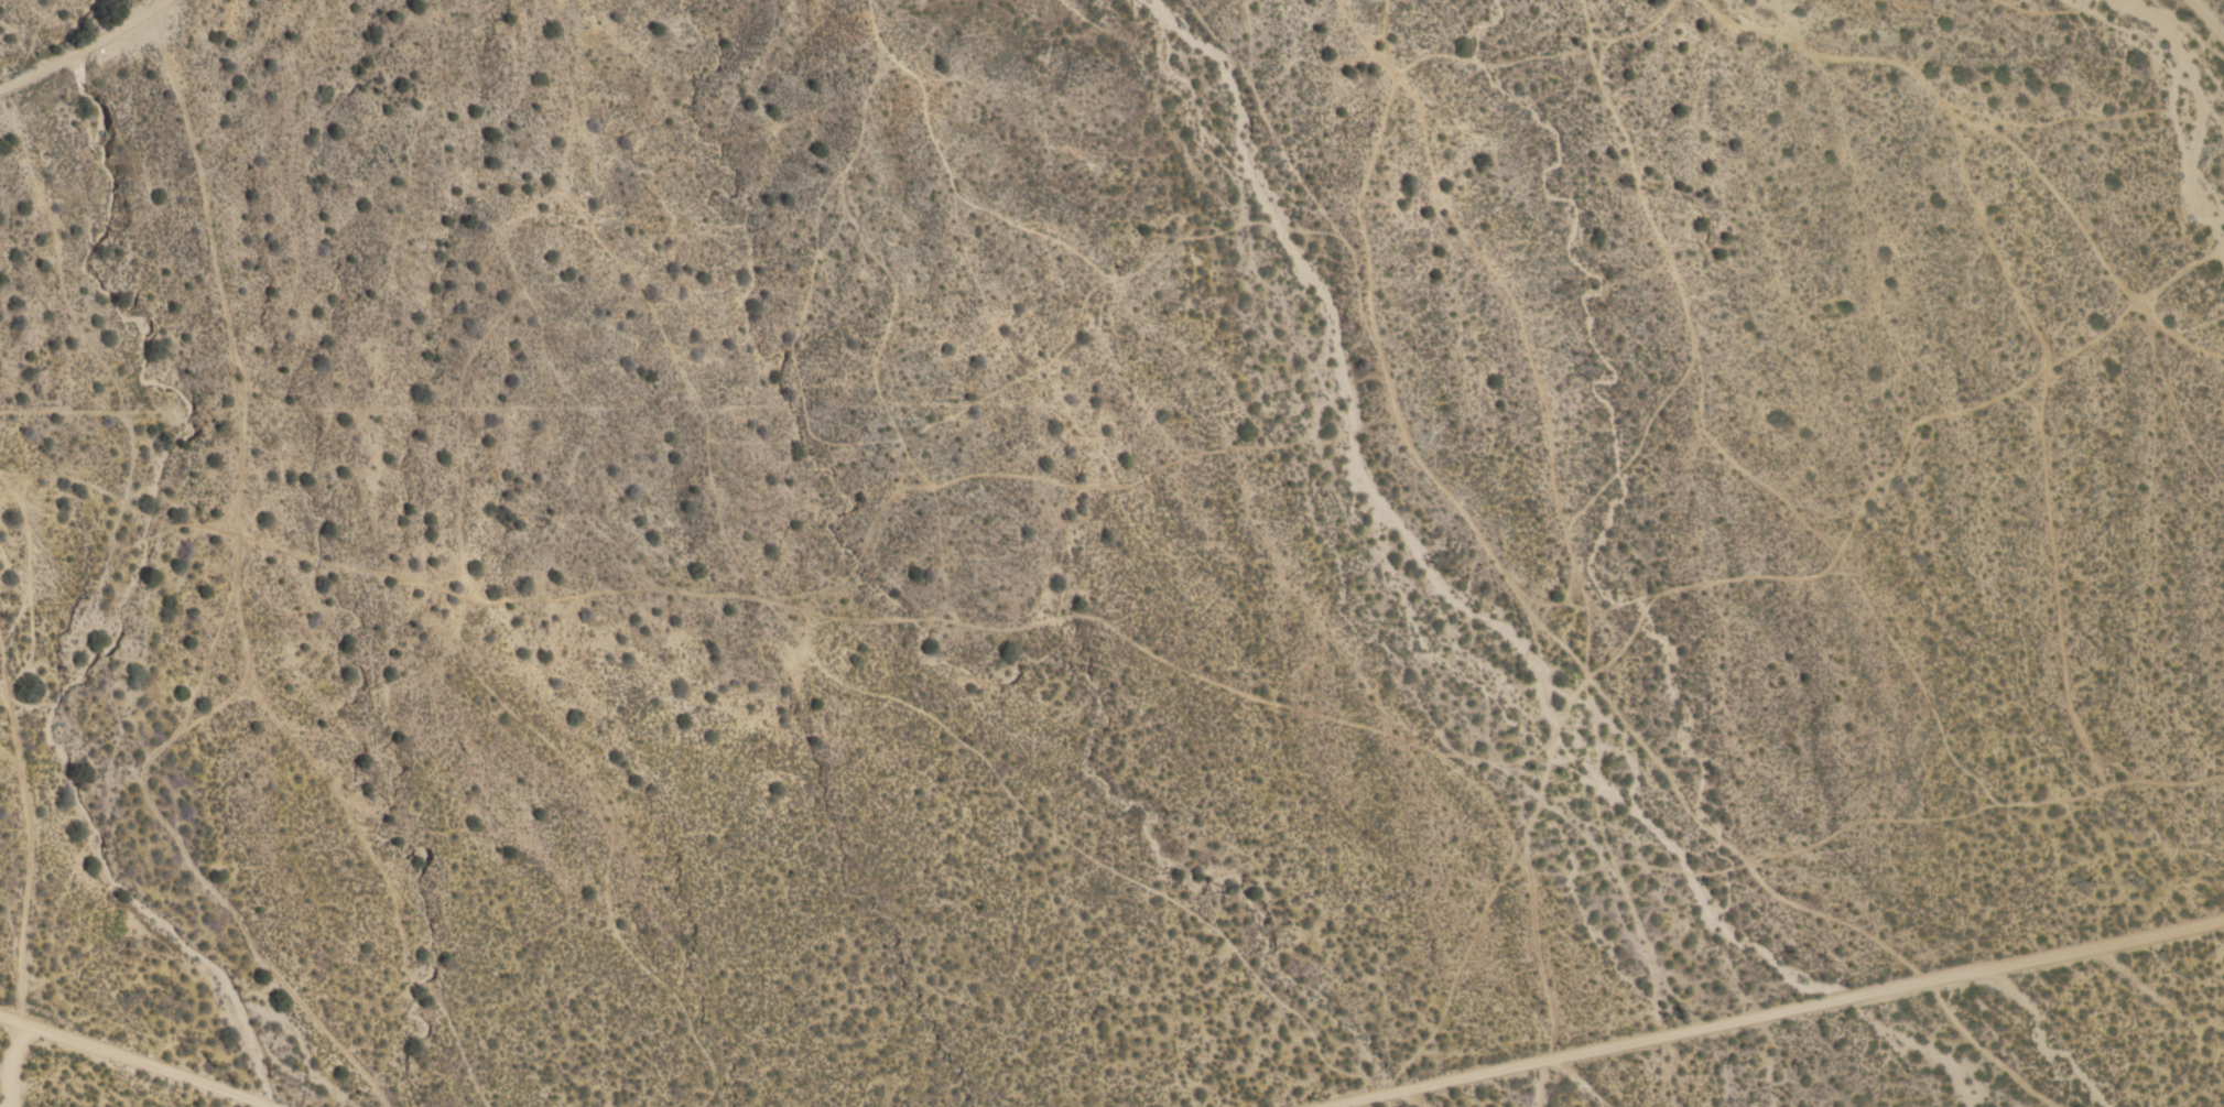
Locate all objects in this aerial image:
road: (2201, 26)
road: (83, 46)
road: (23, 893)
road: (1765, 1012)
road: (139, 1059)
road: (1541, 1083)

